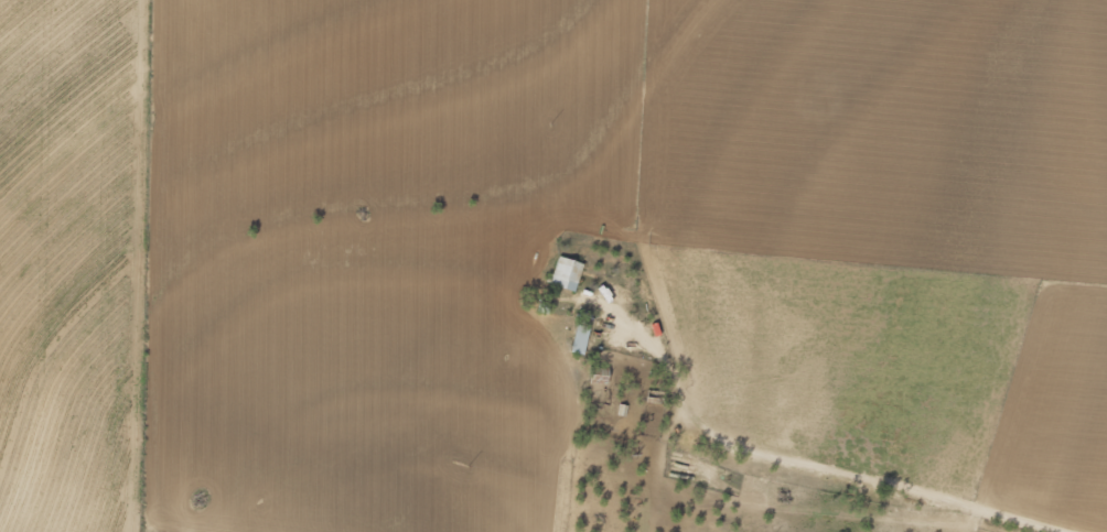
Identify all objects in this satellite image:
building: (568, 272)
building: (580, 346)
road: (820, 506)

